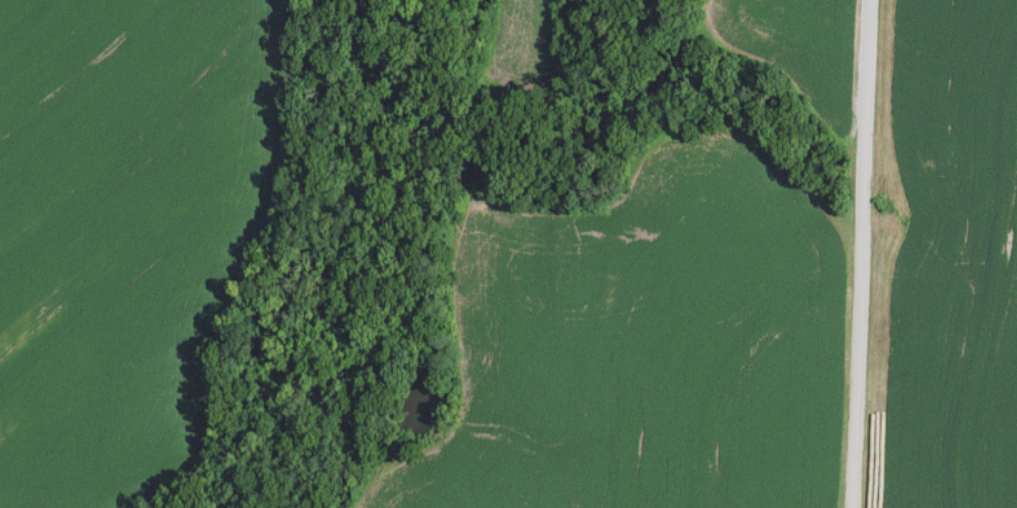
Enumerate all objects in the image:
road: (858, 254)

